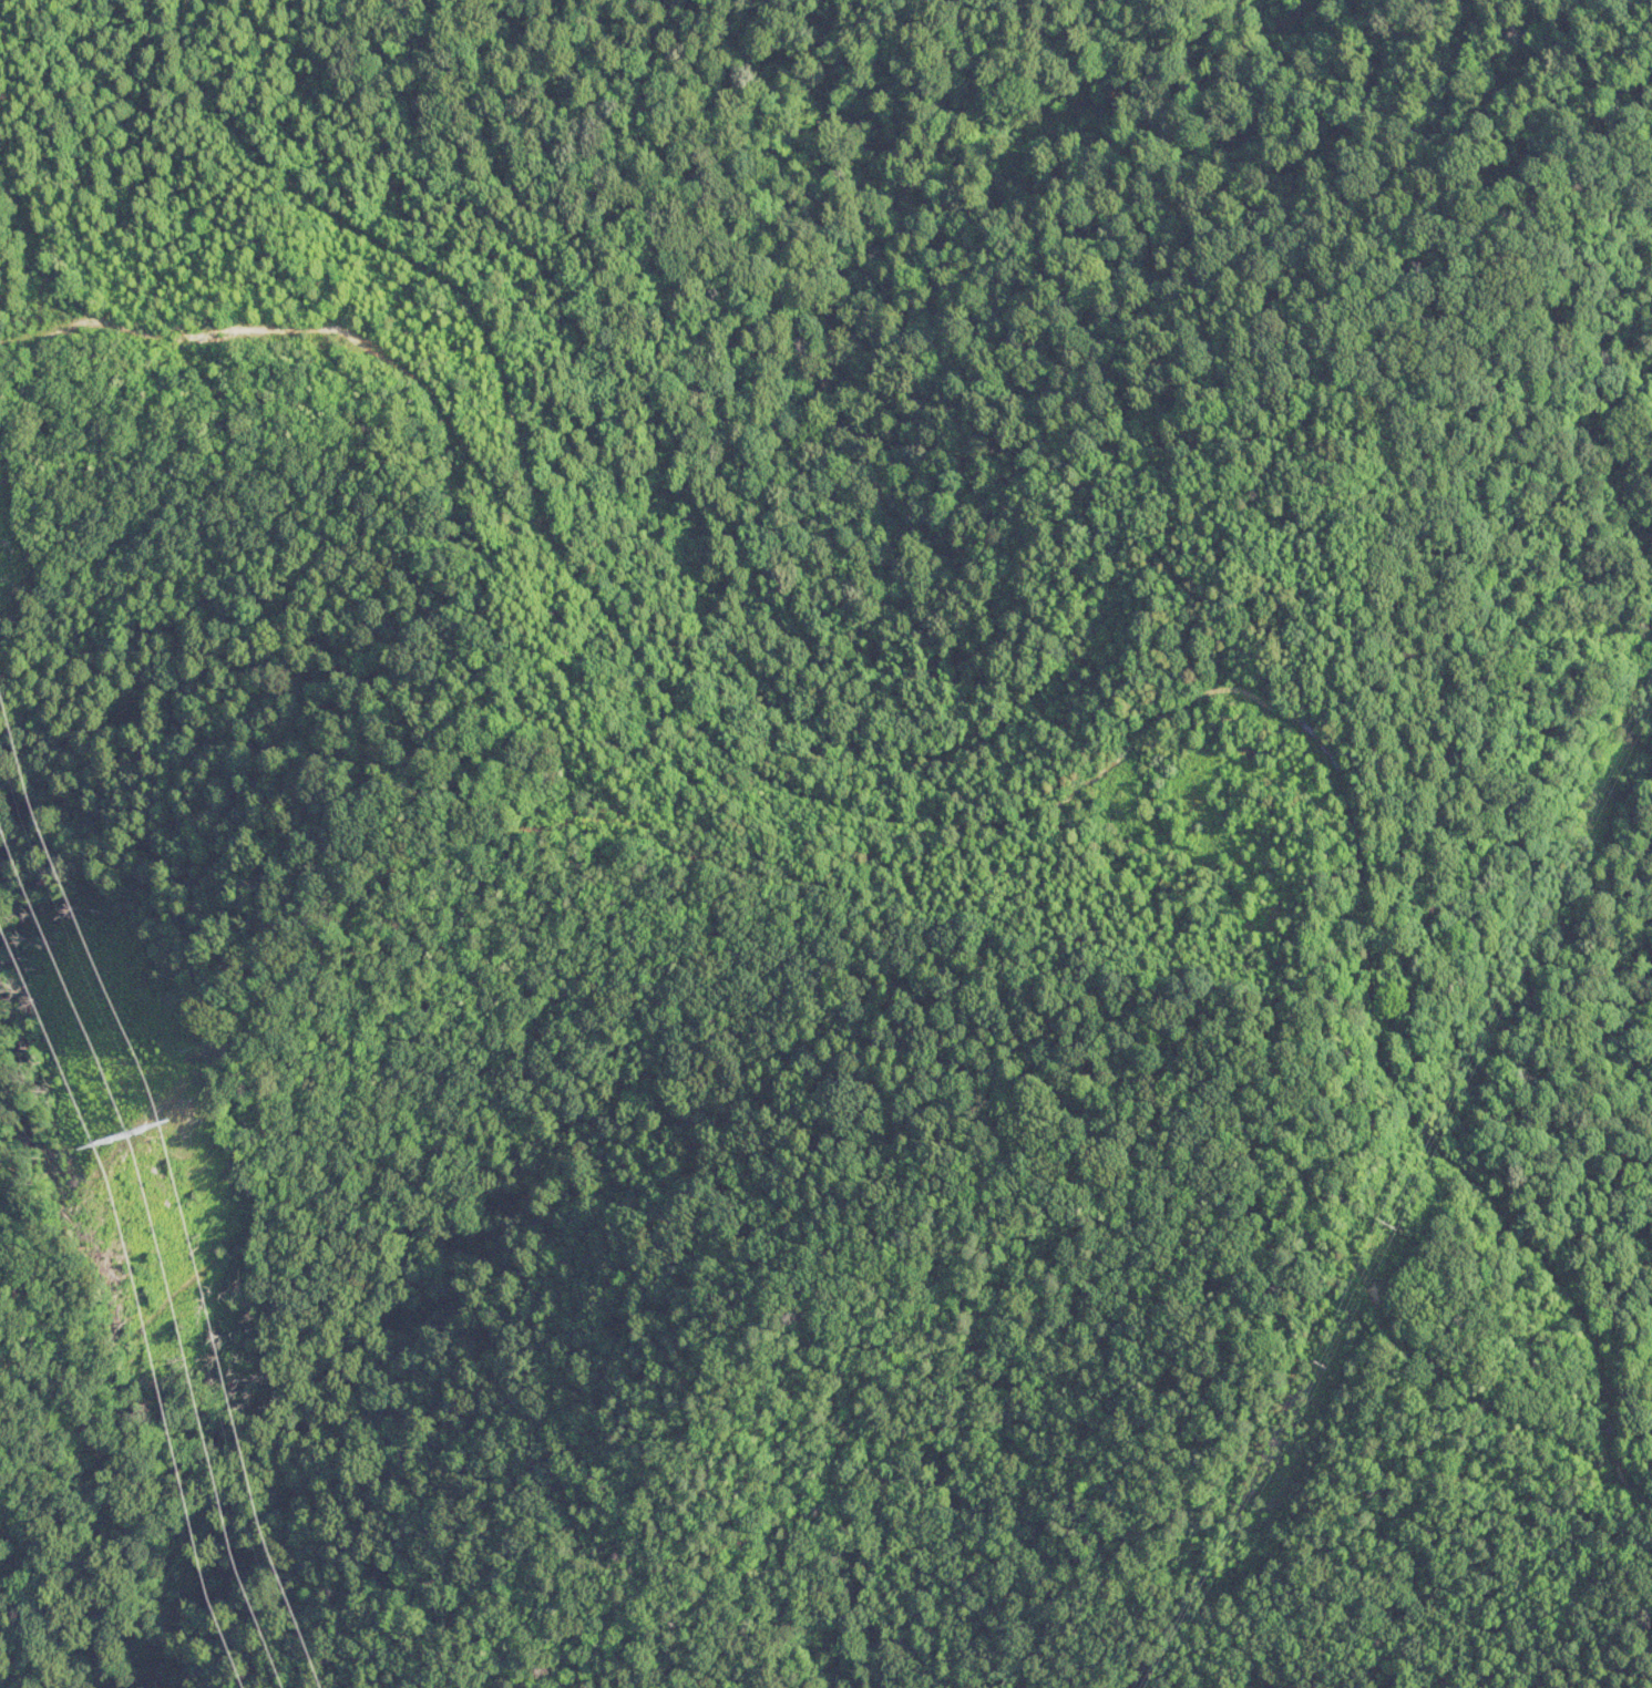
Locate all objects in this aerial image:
power tower: (133, 1140)

